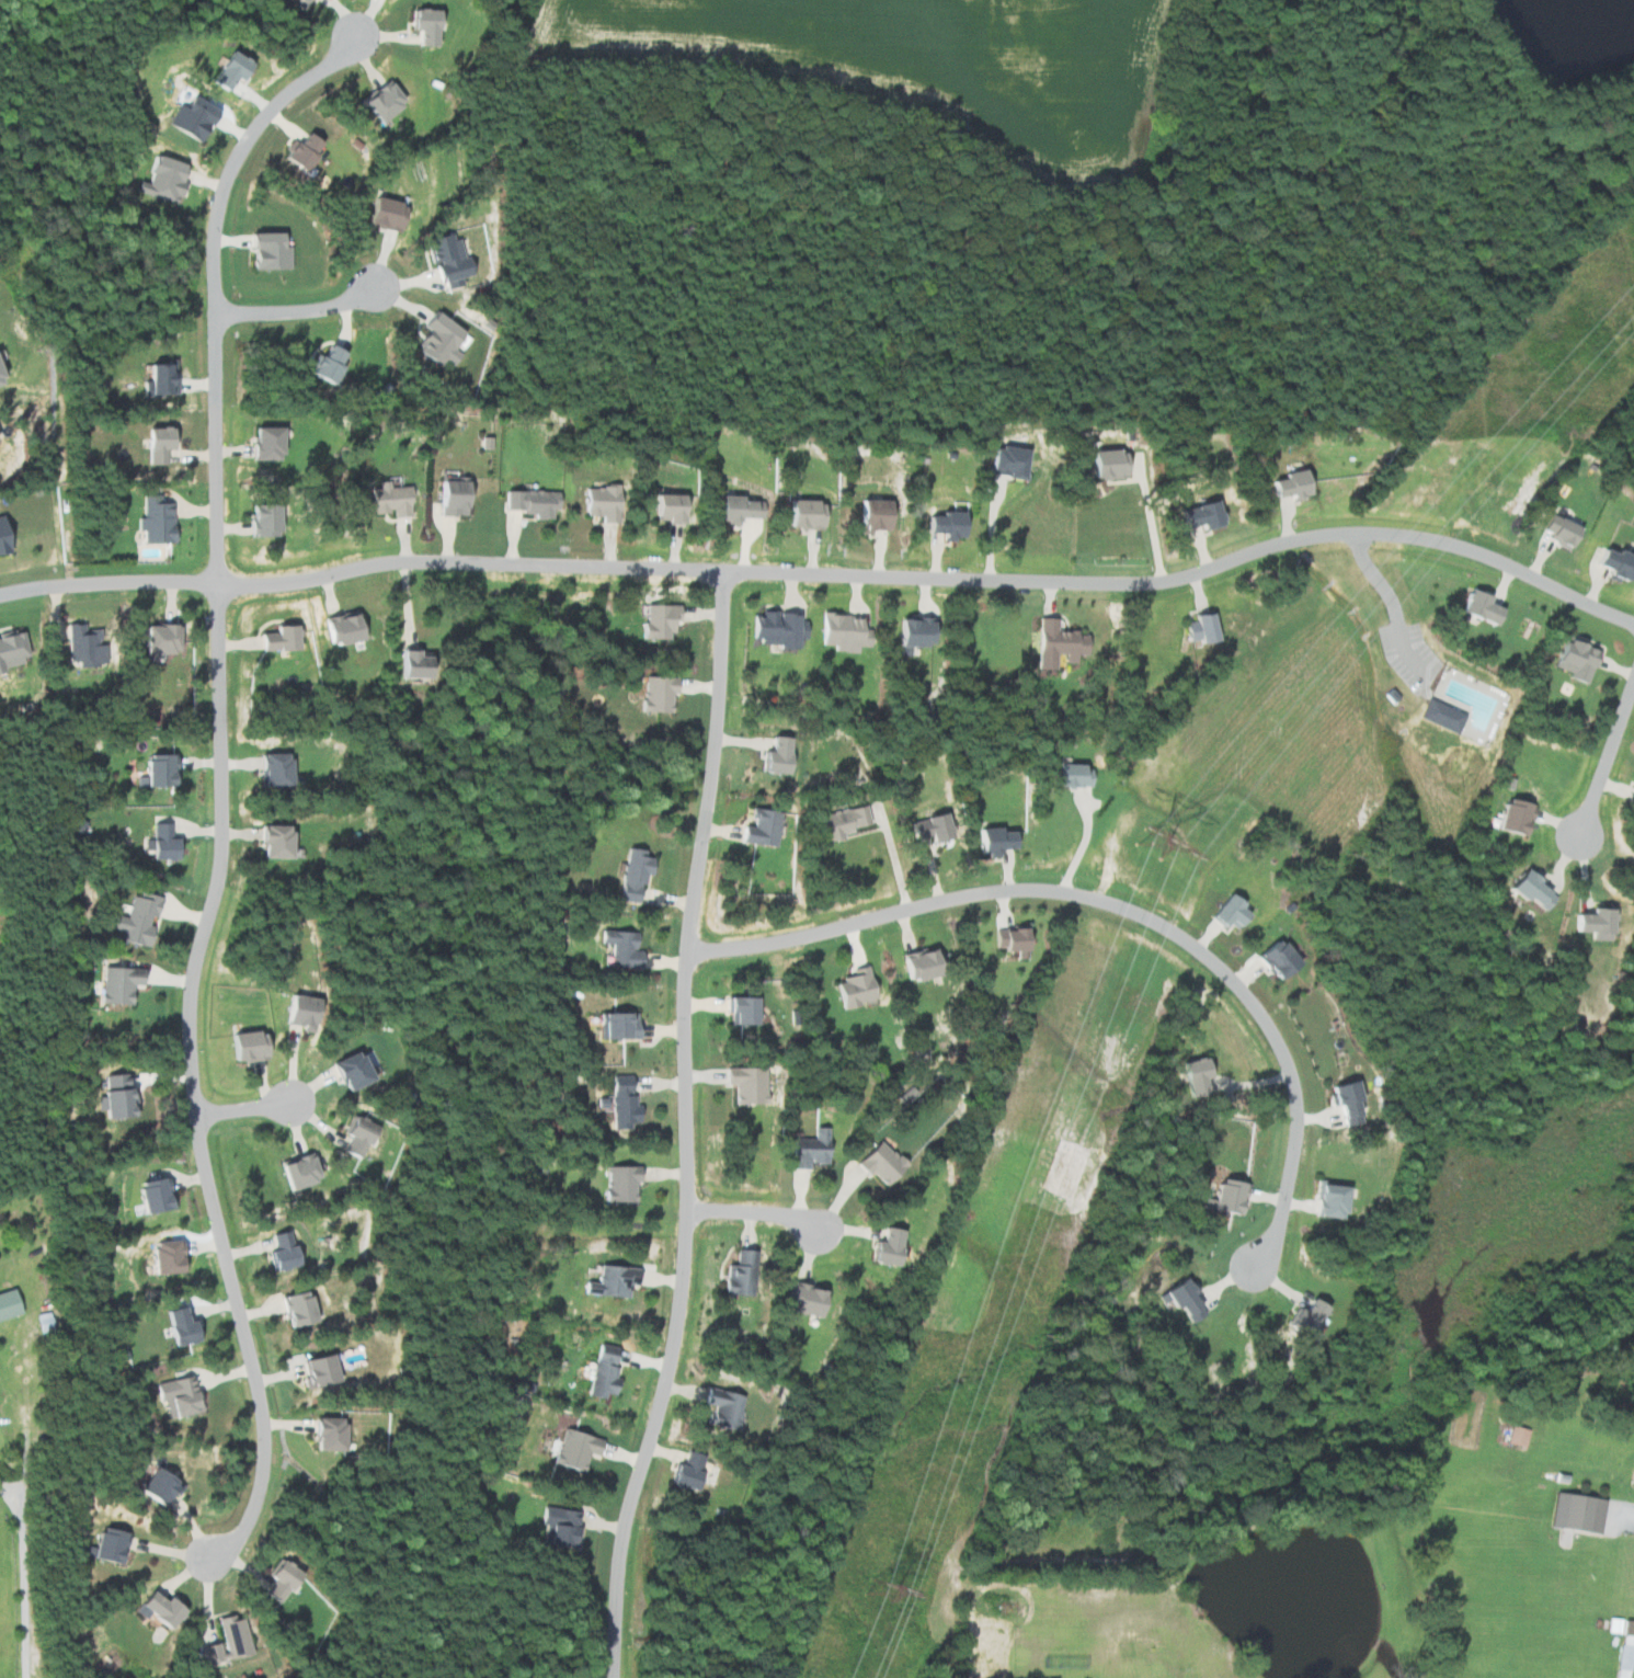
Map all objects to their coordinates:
building: (298, 3)
building: (420, 26)
building: (224, 70)
building: (379, 101)
building: (188, 118)
building: (298, 151)
building: (158, 180)
building: (382, 215)
building: (264, 252)
building: (446, 261)
road: (204, 287)
road: (284, 306)
building: (436, 340)
building: (0, 378)
building: (158, 378)
building: (264, 443)
building: (156, 444)
building: (1005, 463)
building: (1106, 465)
building: (1289, 486)
building: (448, 499)
building: (389, 500)
building: (529, 503)
building: (602, 503)
building: (666, 509)
building: (735, 510)
building: (802, 515)
building: (871, 516)
building: (1199, 516)
building: (153, 521)
building: (259, 522)
road: (1152, 522)
building: (942, 525)
road: (992, 527)
building: (1559, 533)
building: (3, 538)
building: (1610, 564)
road: (827, 573)
road: (1387, 593)
building: (1475, 607)
building: (655, 623)
building: (776, 629)
building: (340, 630)
building: (1196, 630)
building: (838, 632)
building: (910, 635)
building: (276, 639)
building: (158, 640)
building: (80, 646)
building: (1055, 646)
building: (10, 650)
building: (1572, 660)
building: (405, 663)
building: (654, 695)
building: (1440, 717)
building: (774, 755)
road: (1607, 757)
building: (156, 769)
building: (273, 769)
building: (1070, 774)
building: (1630, 796)
building: (1512, 815)
building: (838, 821)
building: (925, 826)
building: (759, 827)
building: (990, 840)
building: (273, 841)
building: (157, 842)
road: (1082, 846)
power tower: (1150, 847)
building: (631, 875)
building: (1528, 889)
road: (1110, 903)
building: (1226, 911)
building: (134, 918)
building: (1591, 922)
building: (1007, 938)
building: (620, 948)
building: (1272, 957)
building: (917, 963)
building: (116, 984)
building: (854, 986)
building: (735, 1008)
building: (296, 1009)
building: (616, 1025)
building: (244, 1045)
building: (344, 1070)
building: (1192, 1074)
road: (192, 1082)
building: (744, 1083)
building: (113, 1096)
building: (620, 1100)
building: (1345, 1100)
road: (242, 1108)
road: (684, 1127)
building: (354, 1135)
building: (808, 1149)
building: (879, 1163)
building: (295, 1169)
building: (618, 1184)
building: (152, 1195)
building: (1225, 1196)
building: (1326, 1199)
road: (753, 1214)
building: (884, 1247)
building: (281, 1252)
building: (164, 1257)
building: (736, 1274)
building: (609, 1281)
building: (799, 1298)
building: (1181, 1299)
building: (7, 1303)
building: (294, 1308)
building: (1303, 1317)
building: (176, 1327)
building: (315, 1370)
building: (602, 1370)
building: (176, 1395)
building: (720, 1407)
building: (323, 1434)
building: (1516, 1436)
building: (572, 1449)
building: (685, 1472)
building: (153, 1485)
building: (1576, 1513)
building: (558, 1527)
building: (105, 1545)
road: (24, 1576)
building: (276, 1579)
power tower: (879, 1594)
building: (157, 1609)
building: (1623, 1640)
building: (226, 1641)

